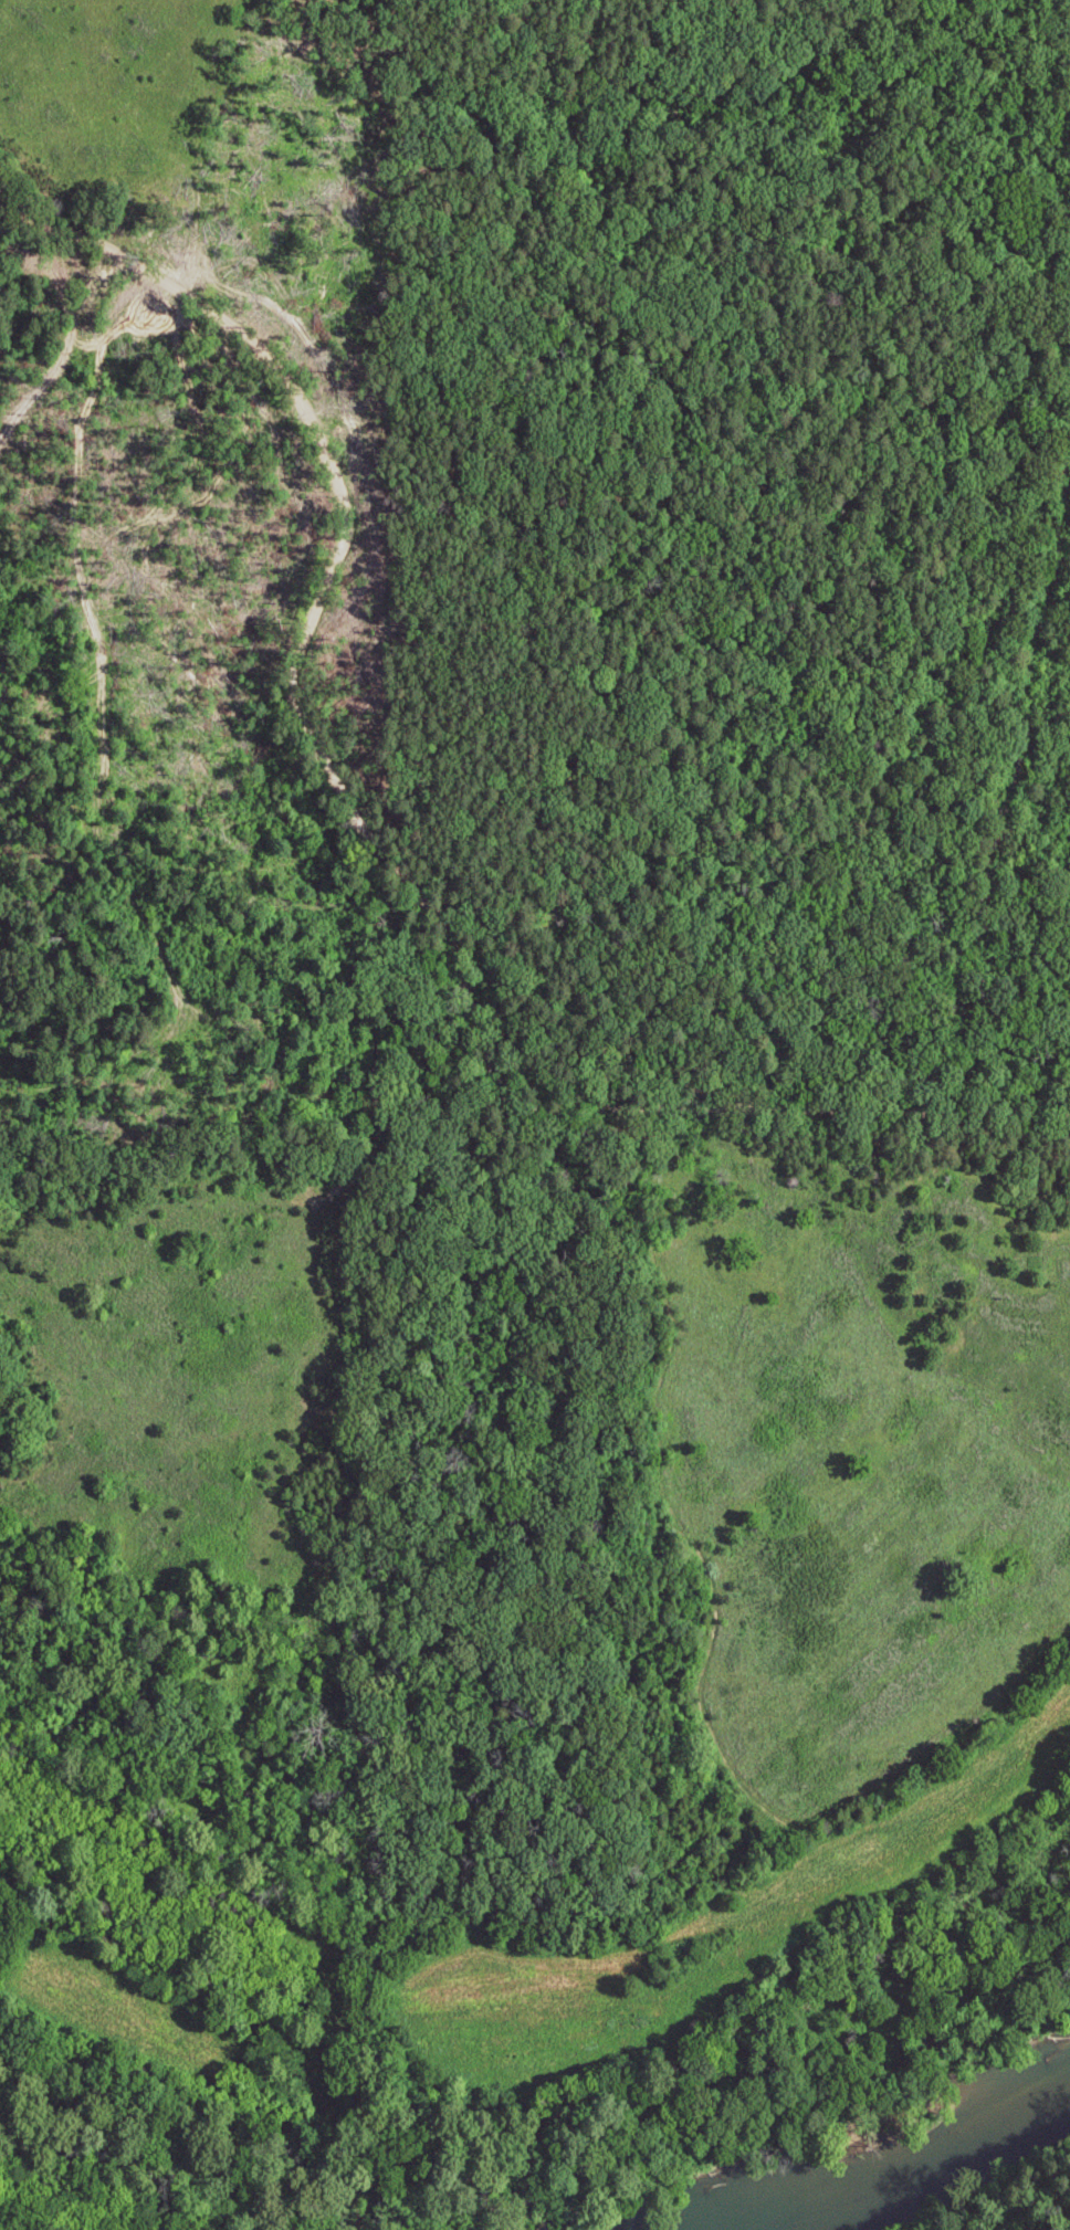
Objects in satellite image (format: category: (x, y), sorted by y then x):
road: (605, 422)
road: (222, 459)
road: (699, 886)
road: (248, 1144)
river: (908, 2168)

